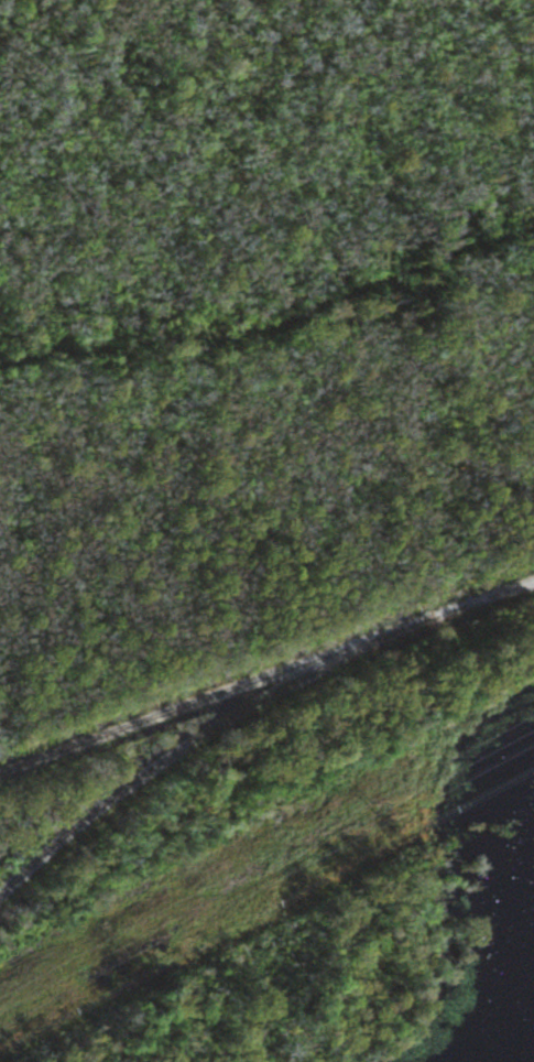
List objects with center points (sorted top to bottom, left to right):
railway: (266, 673)
railway: (196, 737)
power tower: (373, 806)

